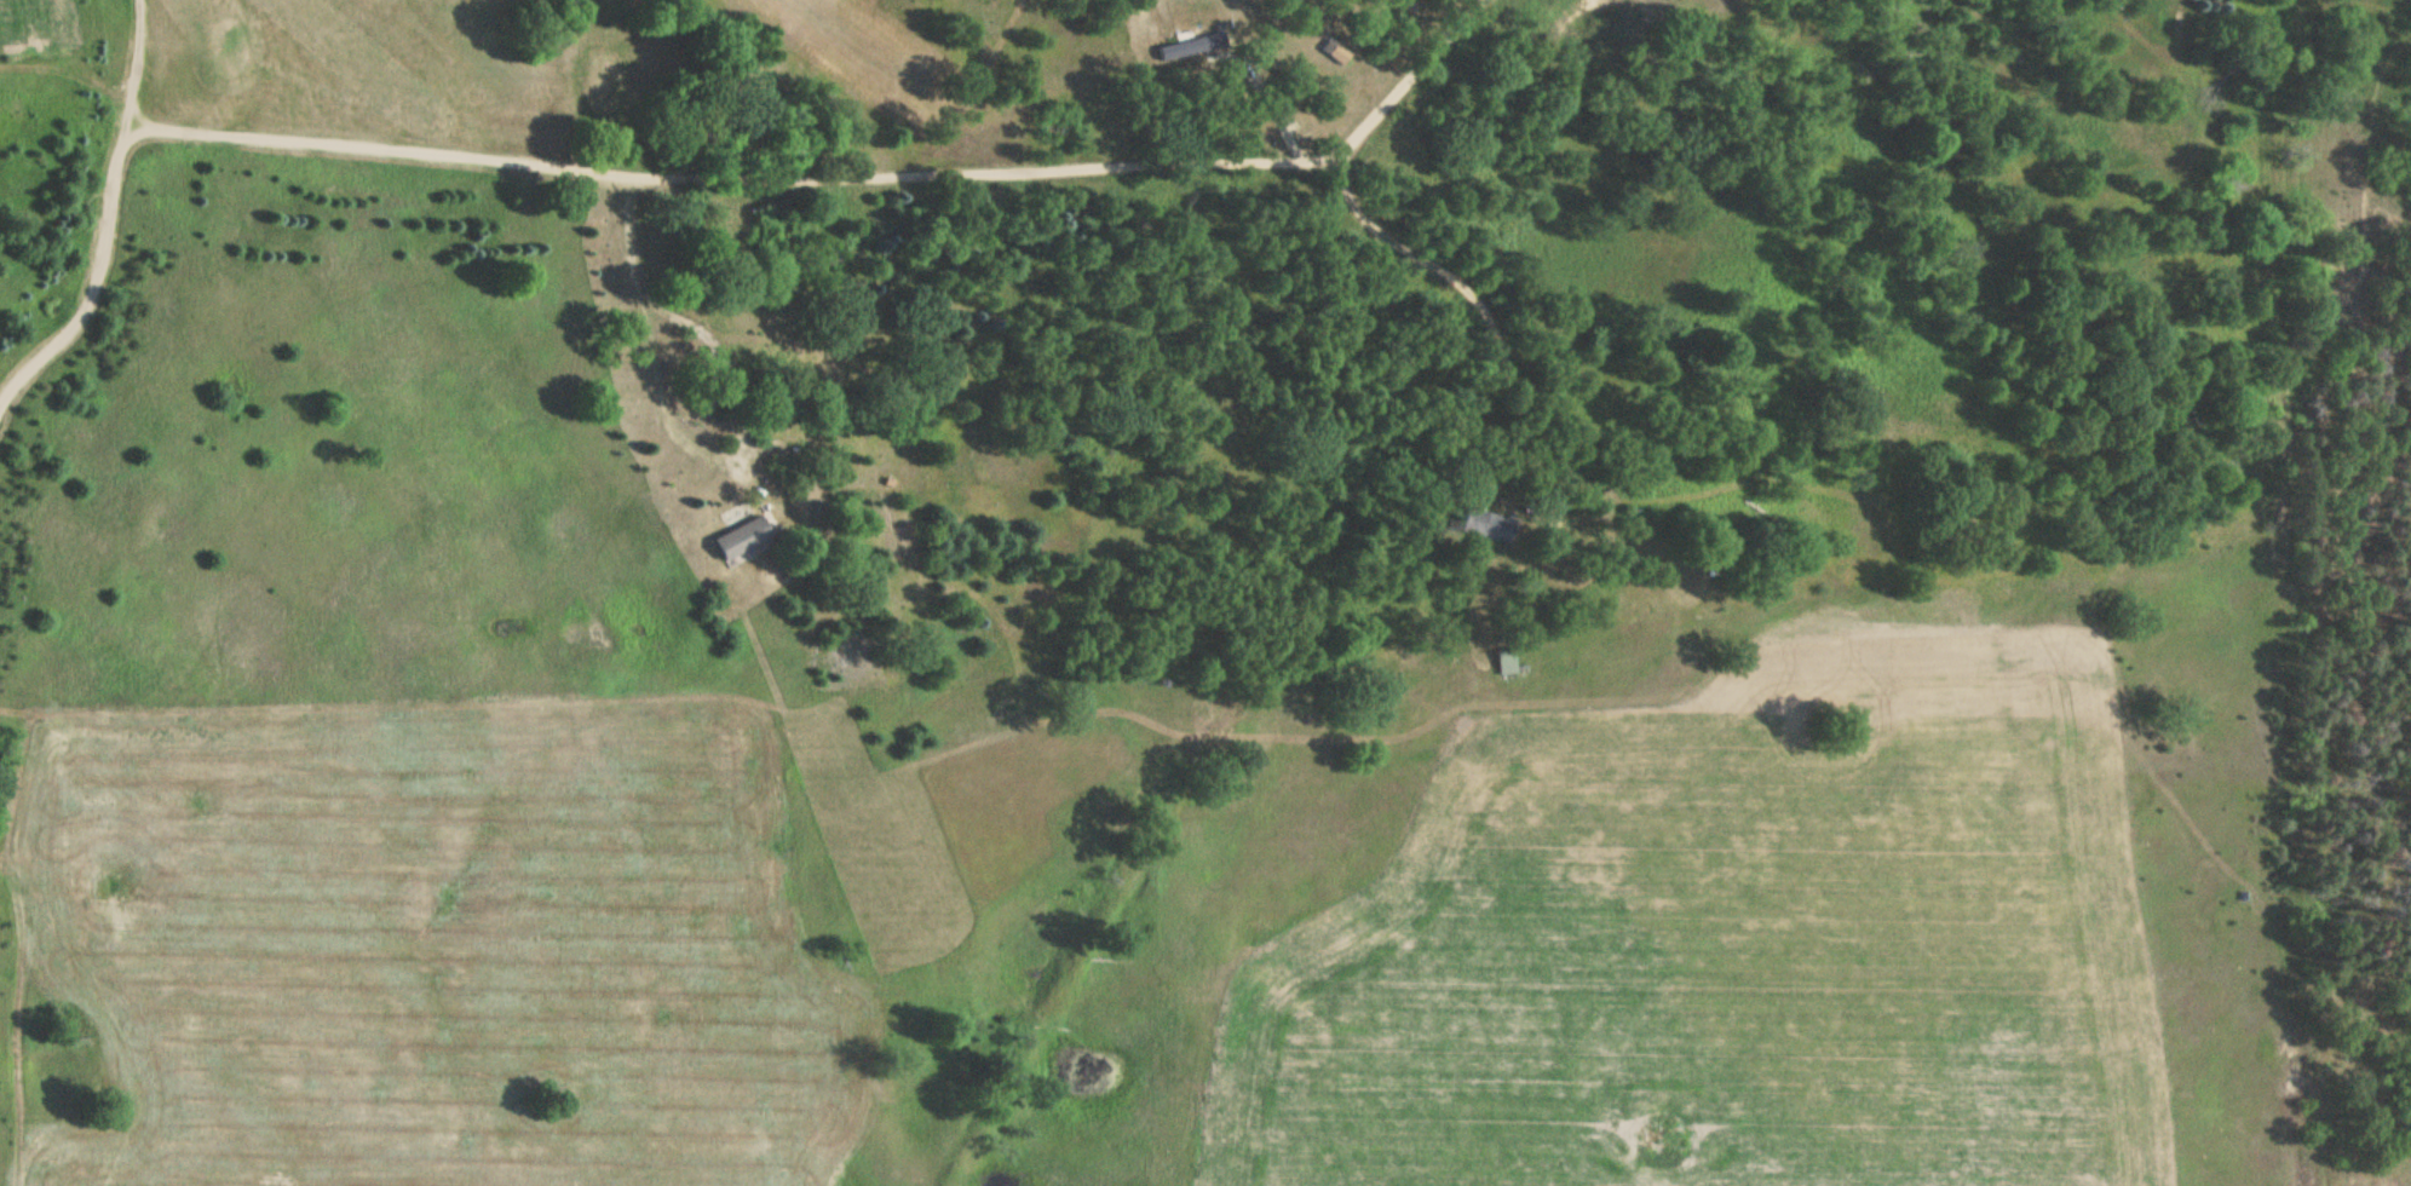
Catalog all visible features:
building: (1336, 51)
park: (404, 59)
road: (131, 76)
road: (824, 175)
road: (91, 290)
building: (1489, 525)
building: (744, 540)
building: (1508, 658)

